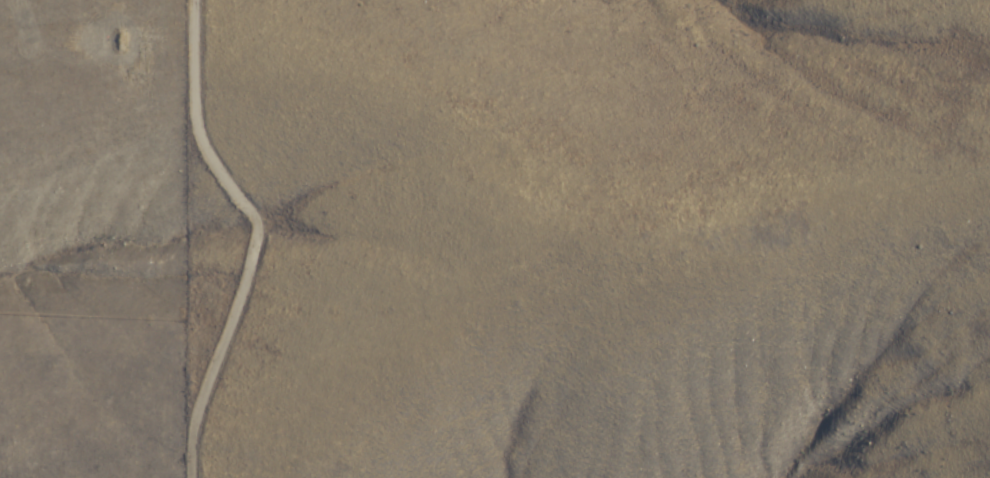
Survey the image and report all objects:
railway: (703, 147)
railway: (686, 155)
road: (263, 236)

